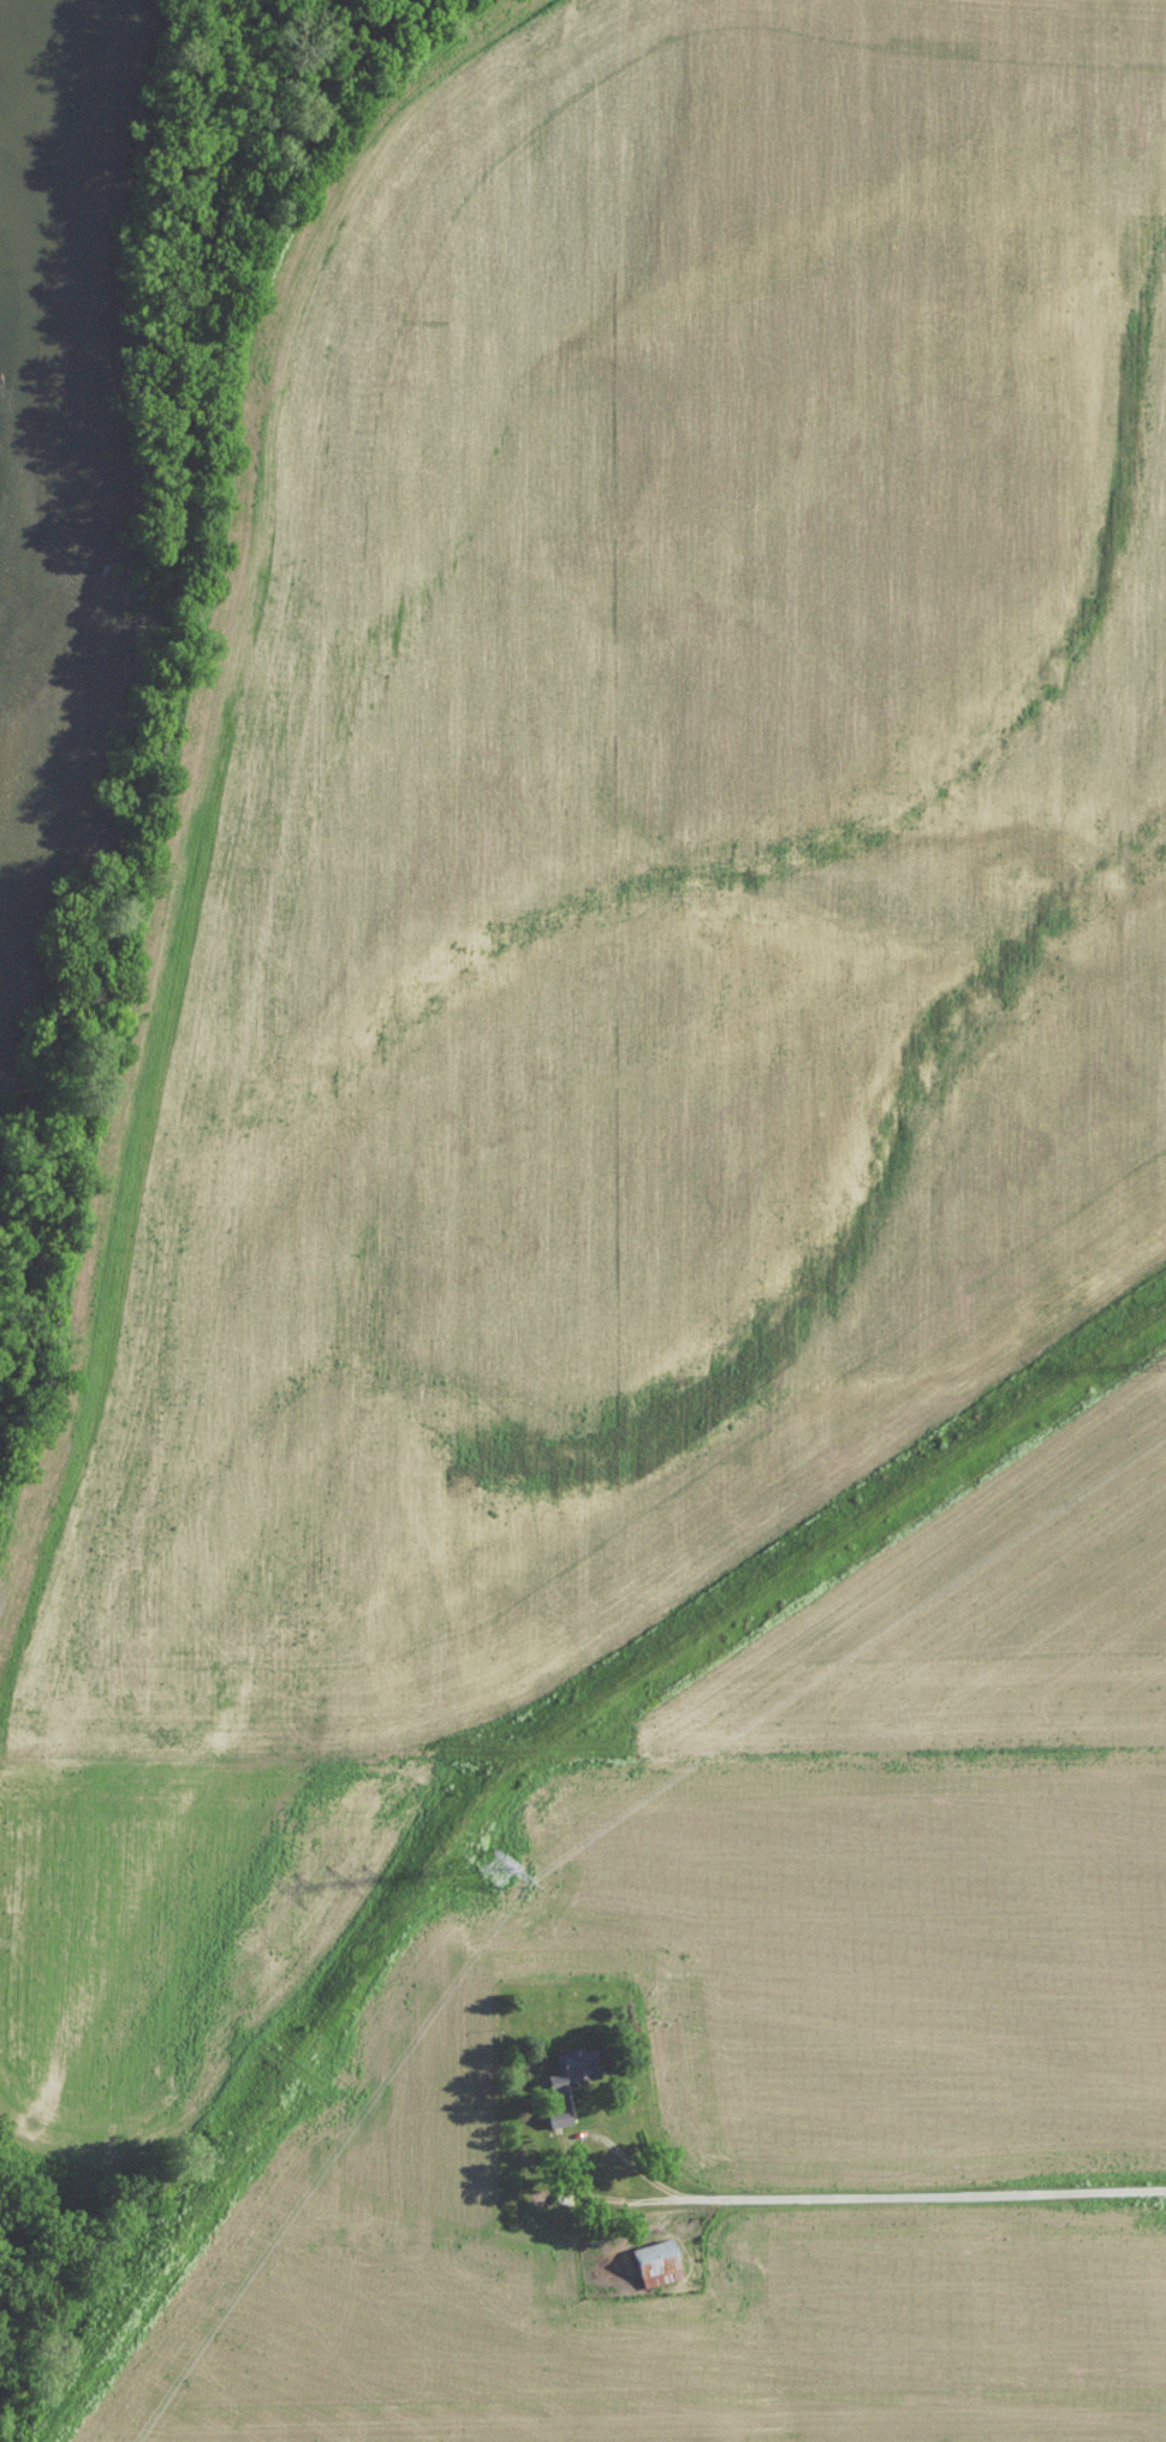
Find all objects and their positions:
river: (40, 350)
power tower: (499, 1867)
building: (563, 2067)
building: (558, 2113)
road: (566, 2146)
road: (930, 2196)
building: (653, 2260)

